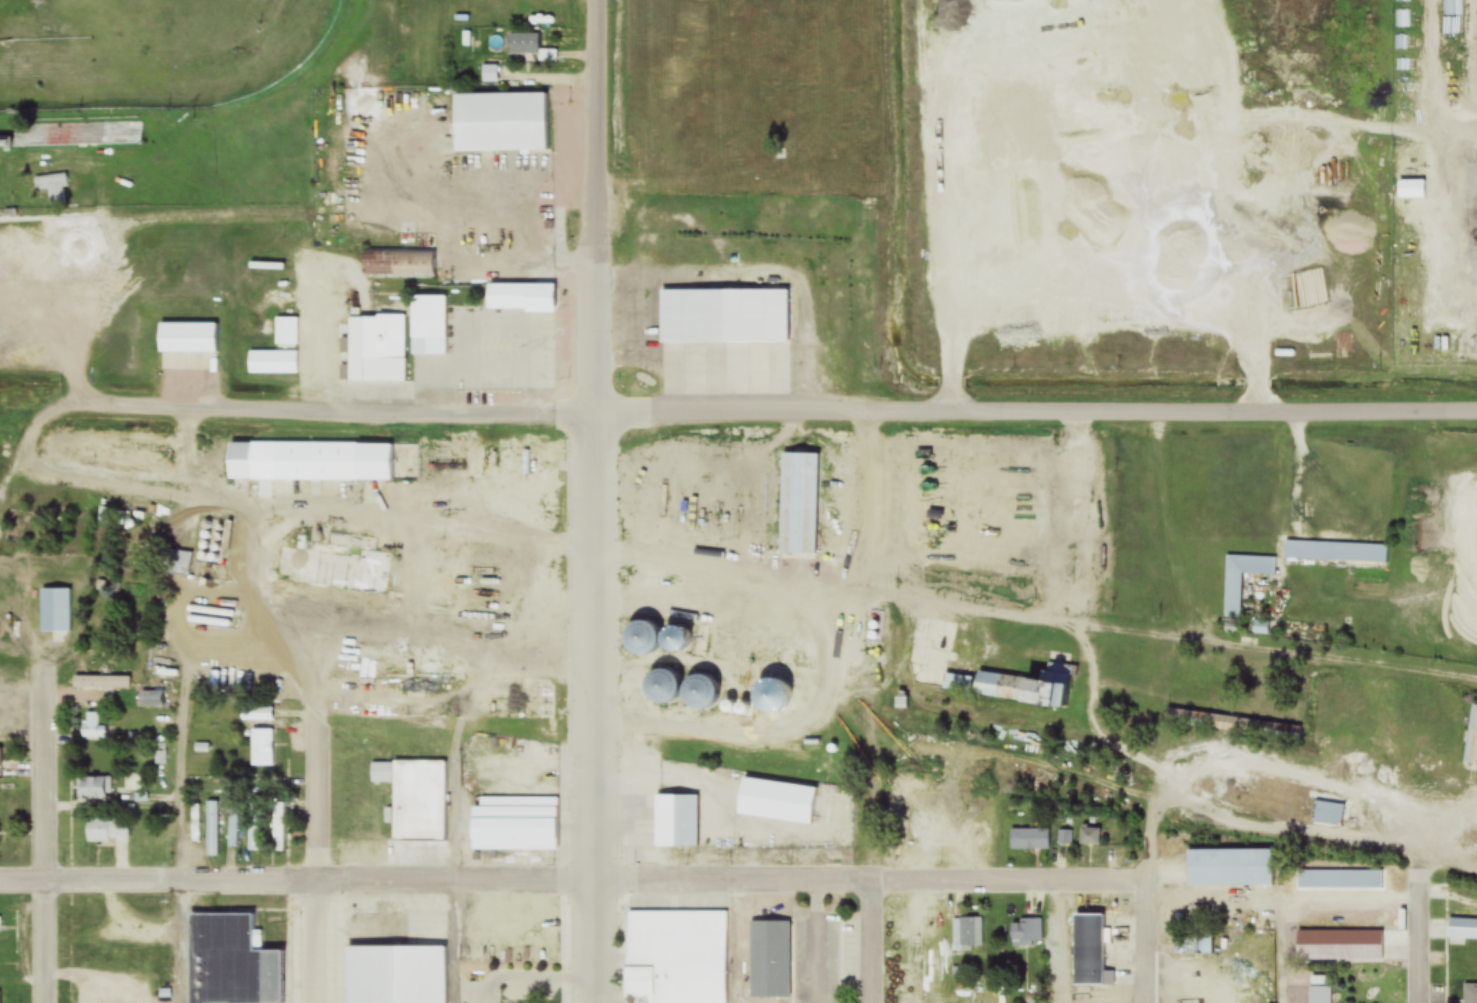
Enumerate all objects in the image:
road: (912, 45)
building: (528, 47)
building: (489, 74)
building: (670, 75)
road: (1194, 98)
building: (499, 123)
building: (77, 135)
building: (52, 190)
building: (1409, 192)
building: (397, 265)
building: (519, 297)
building: (427, 326)
building: (286, 333)
building: (724, 343)
building: (188, 347)
building: (377, 348)
building: (273, 363)
road: (393, 410)
road: (1035, 410)
road: (69, 413)
road: (594, 437)
building: (308, 462)
building: (523, 469)
building: (797, 503)
building: (105, 530)
building: (1335, 551)
building: (176, 563)
building: (333, 568)
road: (748, 573)
building: (1232, 597)
building: (728, 605)
building: (703, 607)
building: (55, 610)
road: (17, 629)
building: (794, 657)
road: (180, 678)
building: (100, 683)
building: (1012, 687)
building: (150, 698)
building: (89, 724)
building: (1233, 725)
road: (734, 733)
building: (1472, 738)
building: (261, 748)
building: (160, 757)
building: (1, 758)
road: (1238, 764)
road: (43, 769)
road: (313, 786)
building: (93, 787)
building: (415, 798)
building: (790, 804)
building: (1328, 813)
road: (873, 814)
building: (676, 819)
building: (254, 821)
building: (195, 824)
building: (211, 829)
road: (1290, 829)
building: (106, 830)
building: (487, 831)
building: (1090, 837)
building: (1030, 840)
road: (1449, 861)
building: (1230, 867)
road: (385, 876)
road: (88, 877)
road: (871, 878)
building: (1339, 879)
road: (1421, 900)
building: (1026, 933)
building: (968, 935)
road: (313, 939)
road: (594, 939)
road: (46, 940)
road: (177, 940)
road: (870, 940)
road: (1147, 943)
building: (1339, 947)
building: (1088, 948)
building: (678, 956)
building: (770, 958)
building: (914, 958)
building: (230, 961)
building: (392, 975)
building: (1470, 993)
building: (972, 994)
building: (1320, 994)

